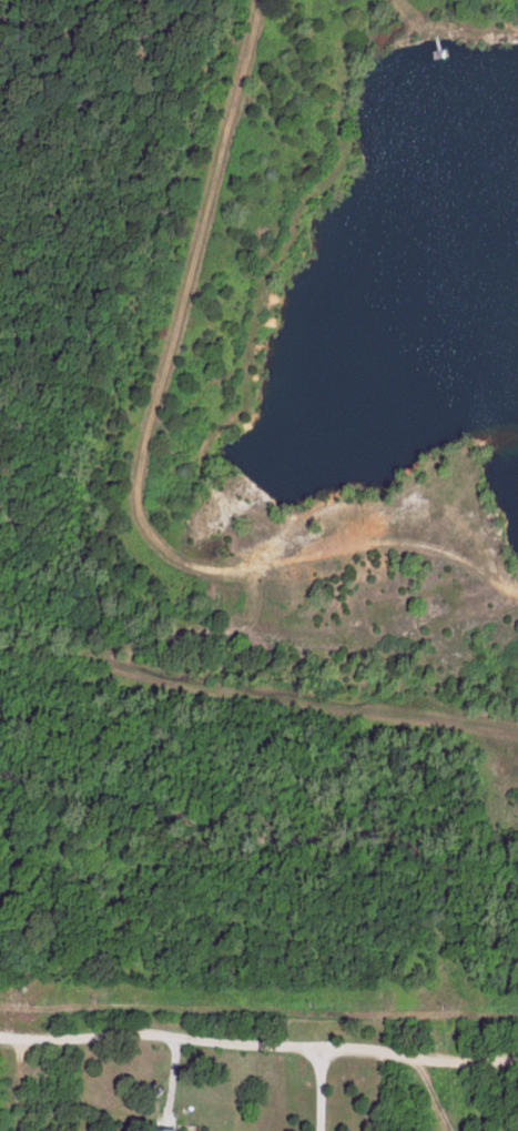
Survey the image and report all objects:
road: (252, 75)
road: (241, 252)
road: (312, 254)
road: (258, 1043)
road: (319, 1091)
building: (175, 1129)

